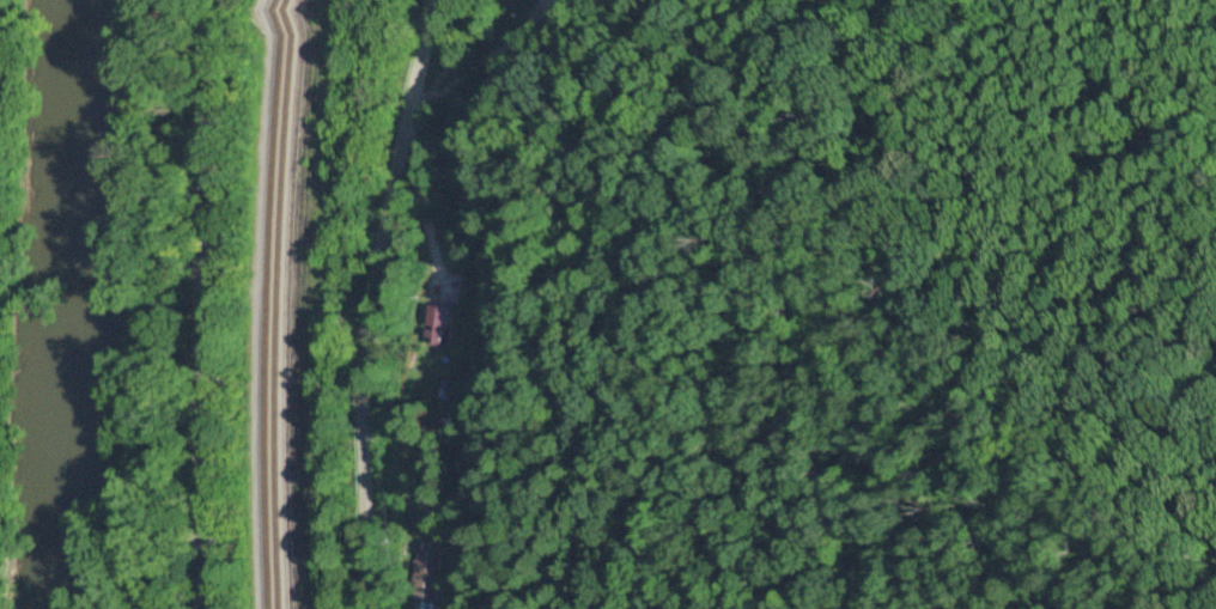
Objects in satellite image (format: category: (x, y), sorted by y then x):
road: (370, 302)
river: (69, 304)
road: (211, 304)
railway: (278, 304)
building: (425, 577)

